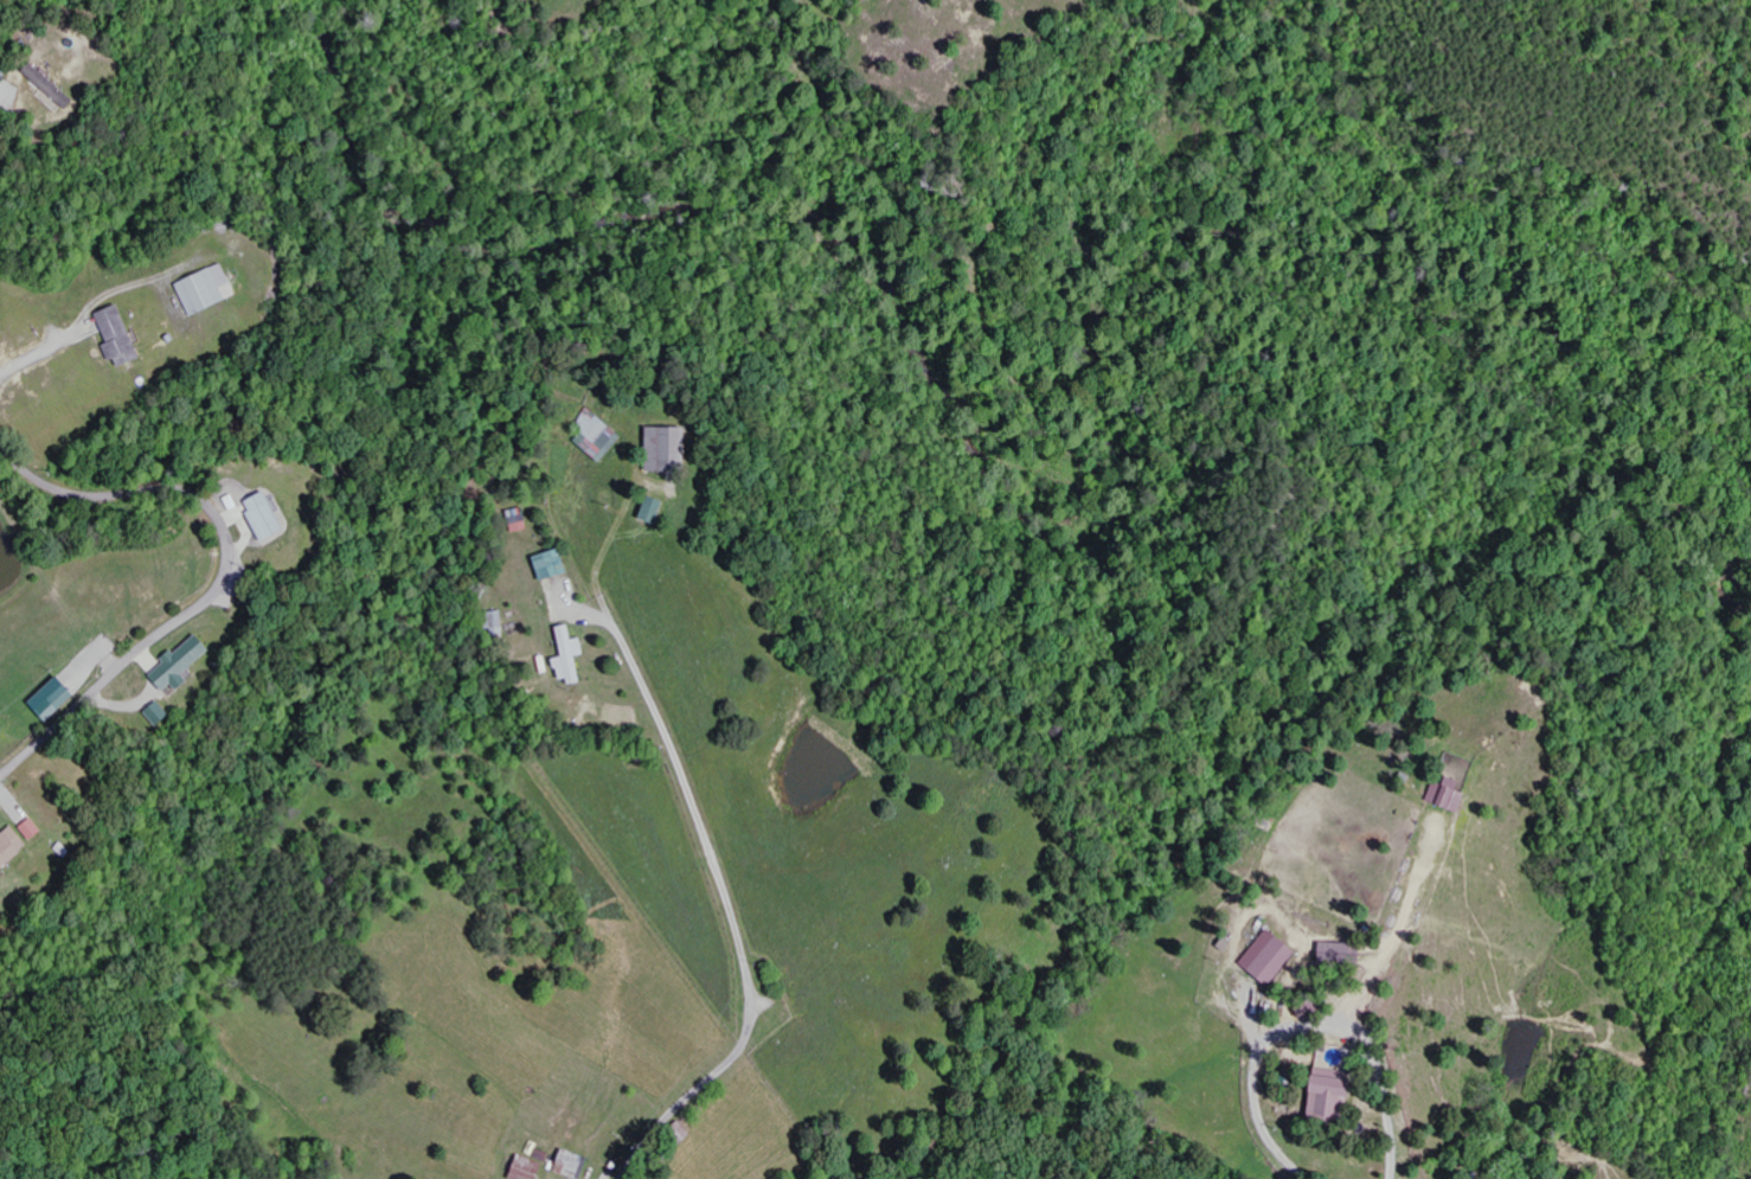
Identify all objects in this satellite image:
building: (54, 92)
building: (212, 289)
building: (123, 337)
building: (598, 434)
building: (673, 448)
building: (659, 508)
building: (556, 564)
road: (227, 575)
building: (571, 655)
building: (186, 664)
building: (58, 698)
building: (161, 713)
building: (1451, 796)
building: (14, 848)
road: (720, 903)
building: (1272, 956)
building: (1339, 1093)
building: (576, 1164)
building: (534, 1167)

